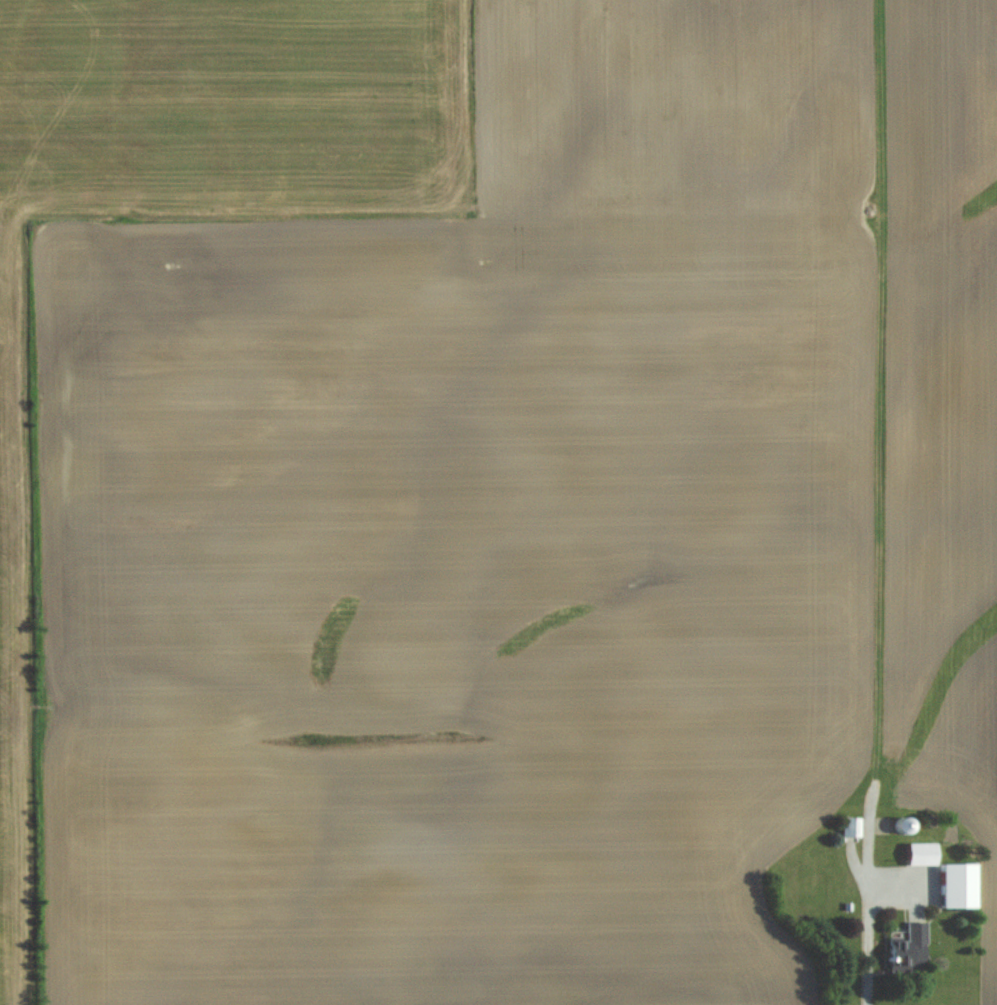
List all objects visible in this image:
building: (850, 826)
building: (921, 853)
building: (957, 885)
road: (866, 932)
building: (908, 947)

